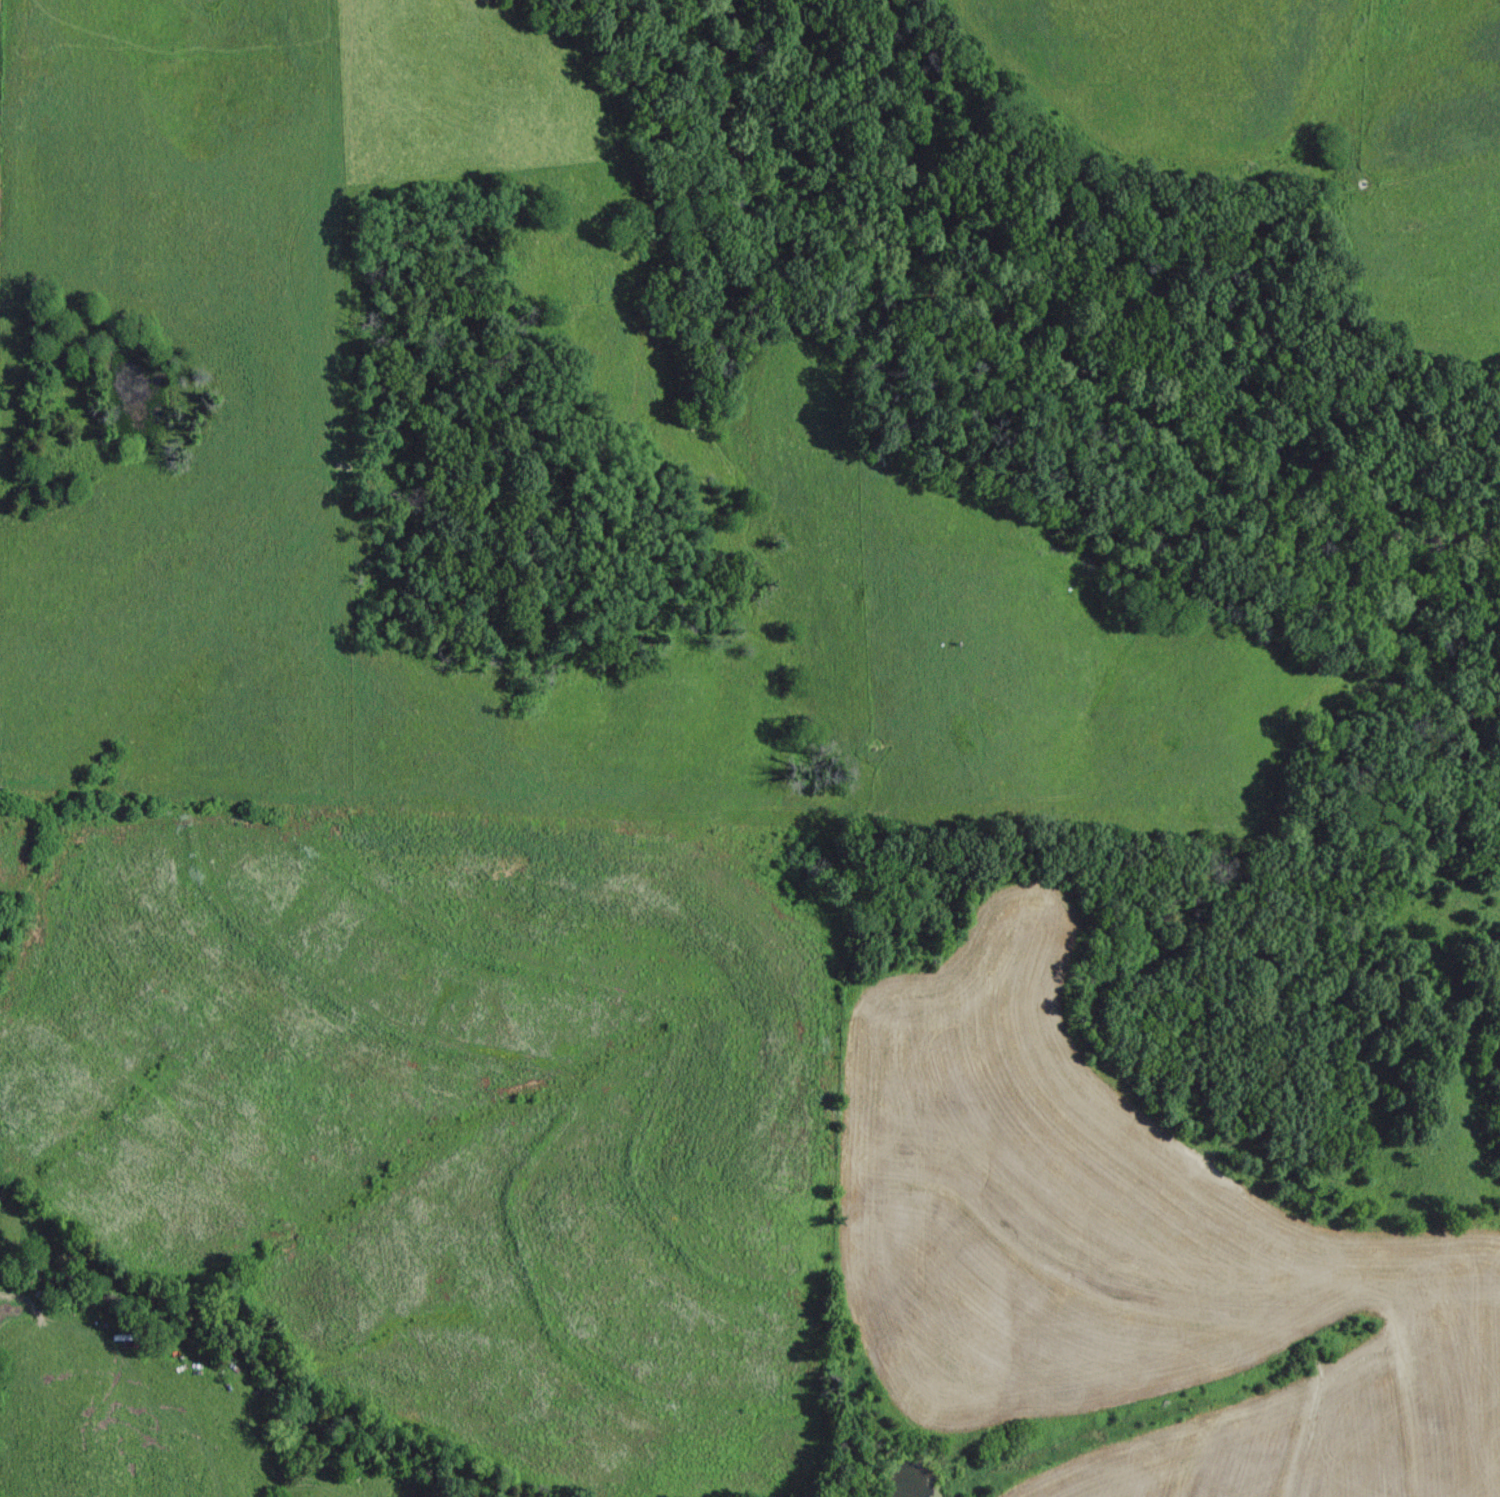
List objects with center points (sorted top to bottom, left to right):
road: (20, 1297)

